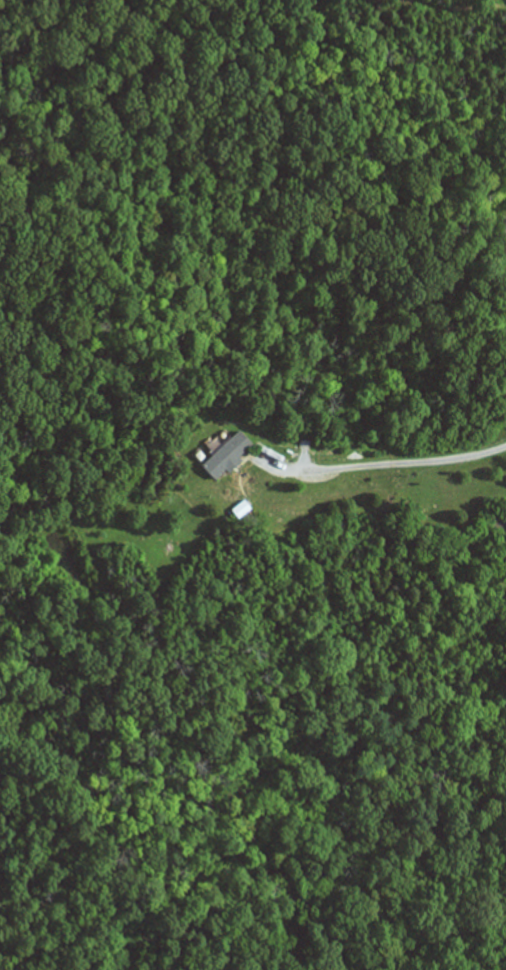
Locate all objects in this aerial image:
building: (227, 456)
road: (408, 464)

